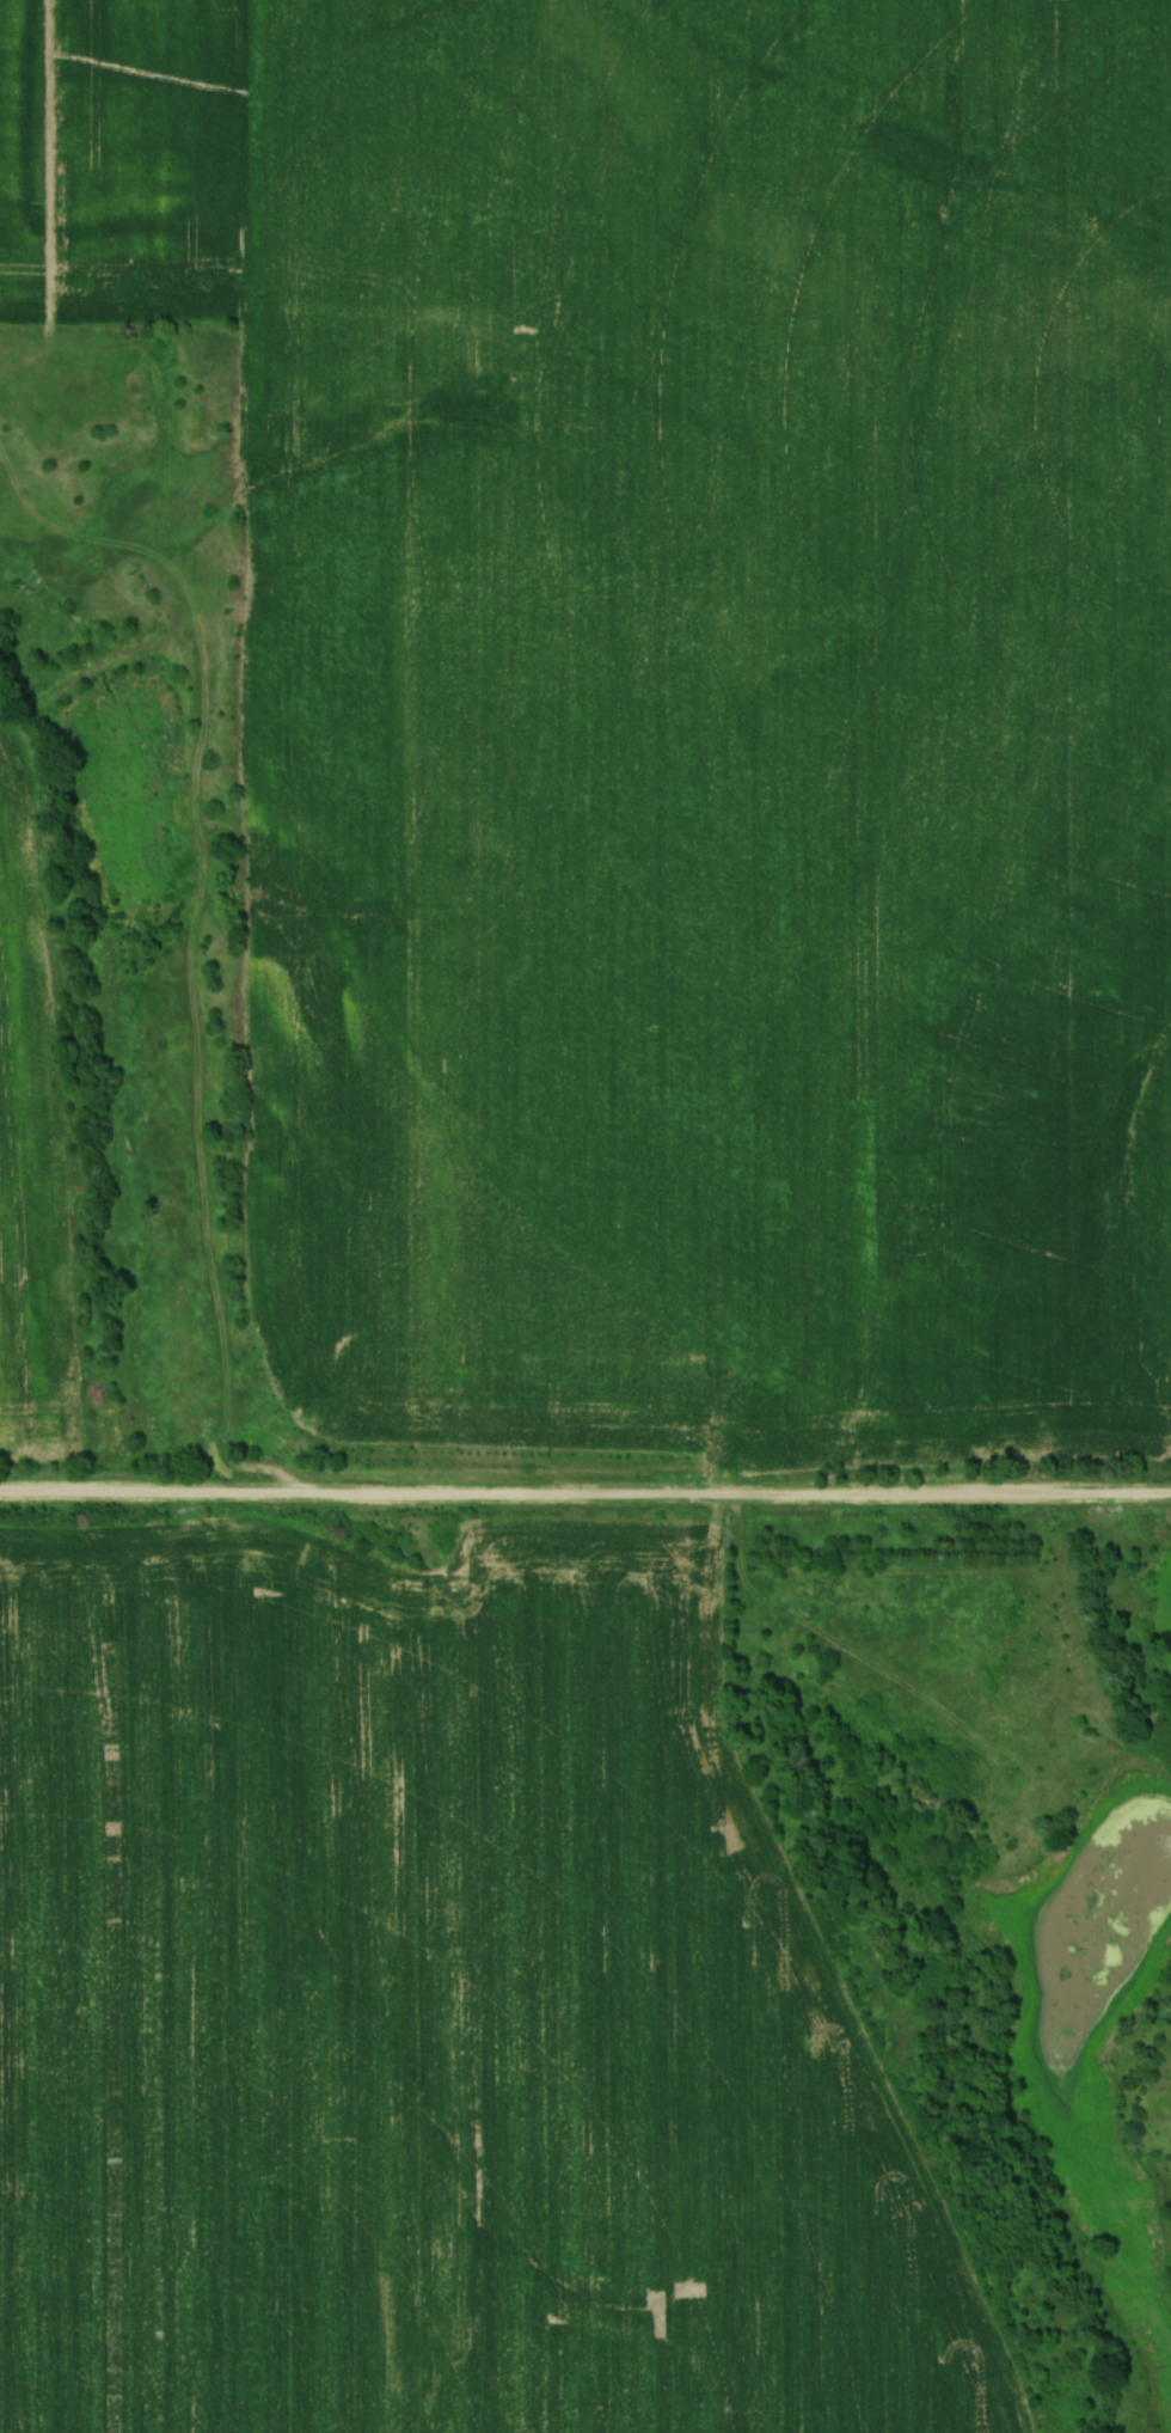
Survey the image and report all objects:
road: (585, 1500)

